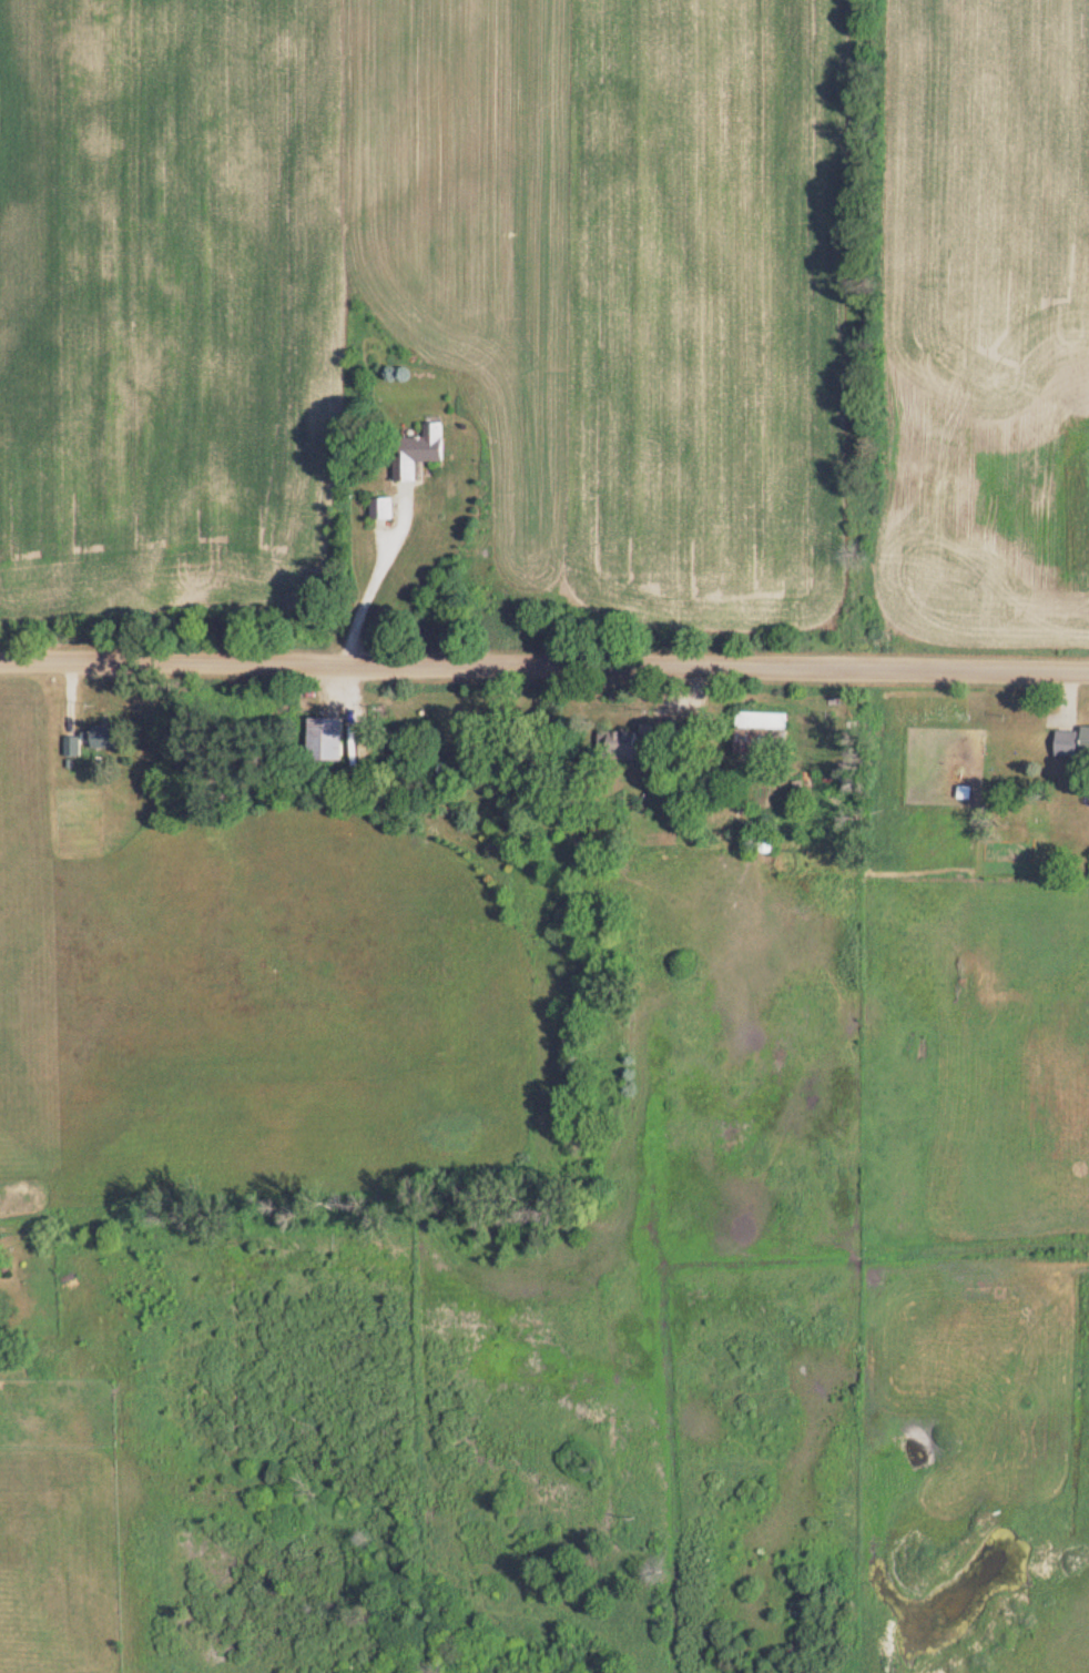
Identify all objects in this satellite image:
building: (424, 454)
building: (387, 511)
road: (380, 574)
road: (544, 665)
building: (765, 736)
building: (109, 739)
building: (333, 741)
building: (627, 746)
building: (1075, 746)
building: (770, 844)

